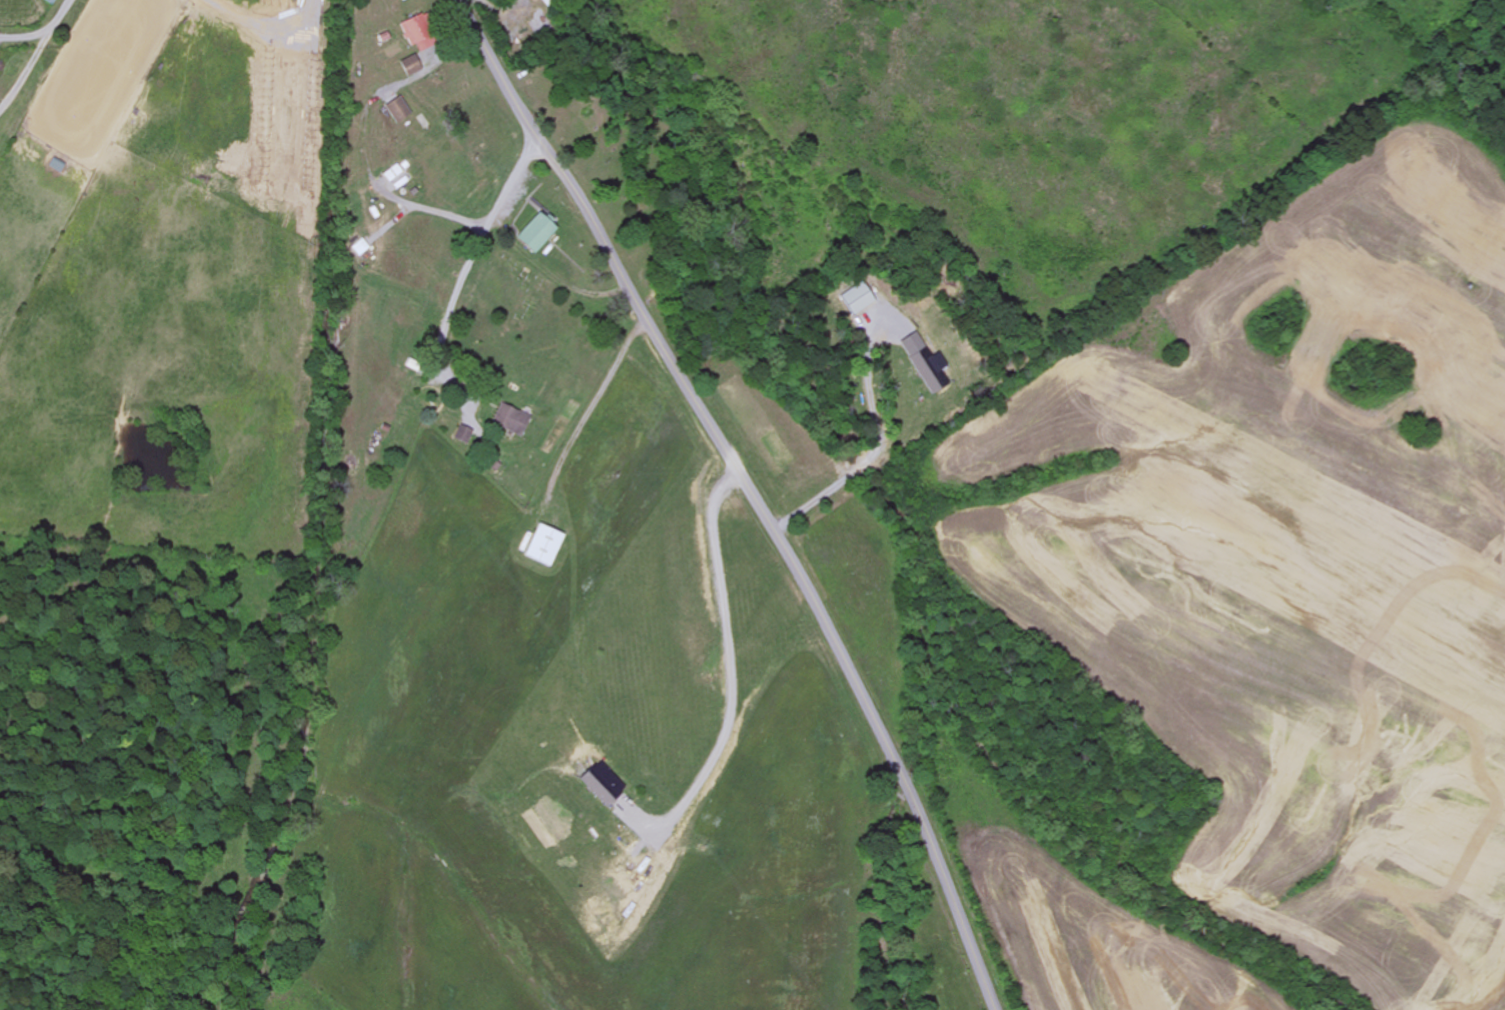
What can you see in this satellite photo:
building: (416, 34)
building: (411, 66)
building: (399, 110)
building: (535, 234)
park: (499, 296)
building: (859, 299)
building: (925, 363)
building: (512, 420)
road: (893, 435)
road: (749, 493)
road: (361, 531)
building: (545, 546)
building: (602, 784)

